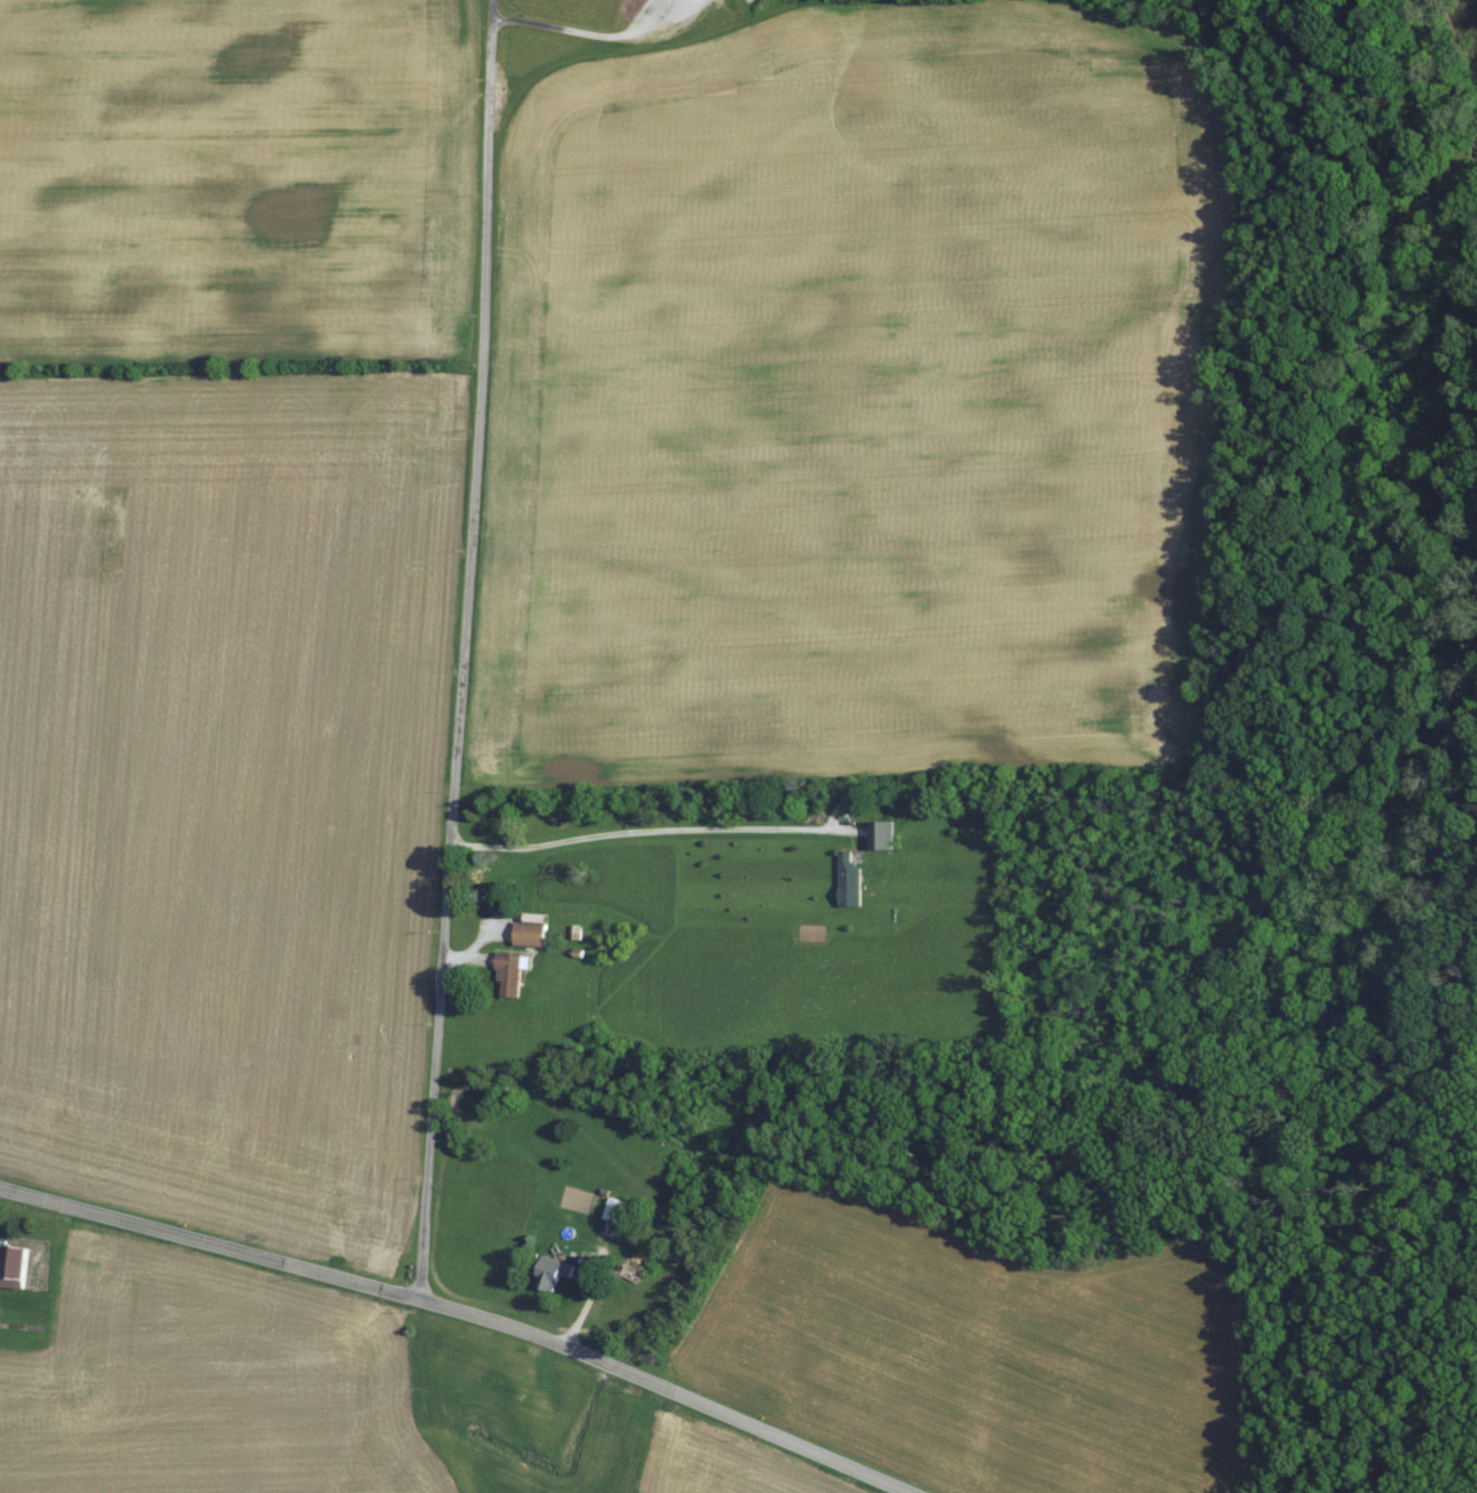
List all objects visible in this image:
road: (492, 8)
road: (616, 38)
road: (456, 657)
road: (654, 827)
building: (879, 835)
building: (852, 878)
building: (533, 931)
building: (510, 973)
building: (617, 1209)
building: (14, 1264)
building: (555, 1272)
road: (462, 1311)

